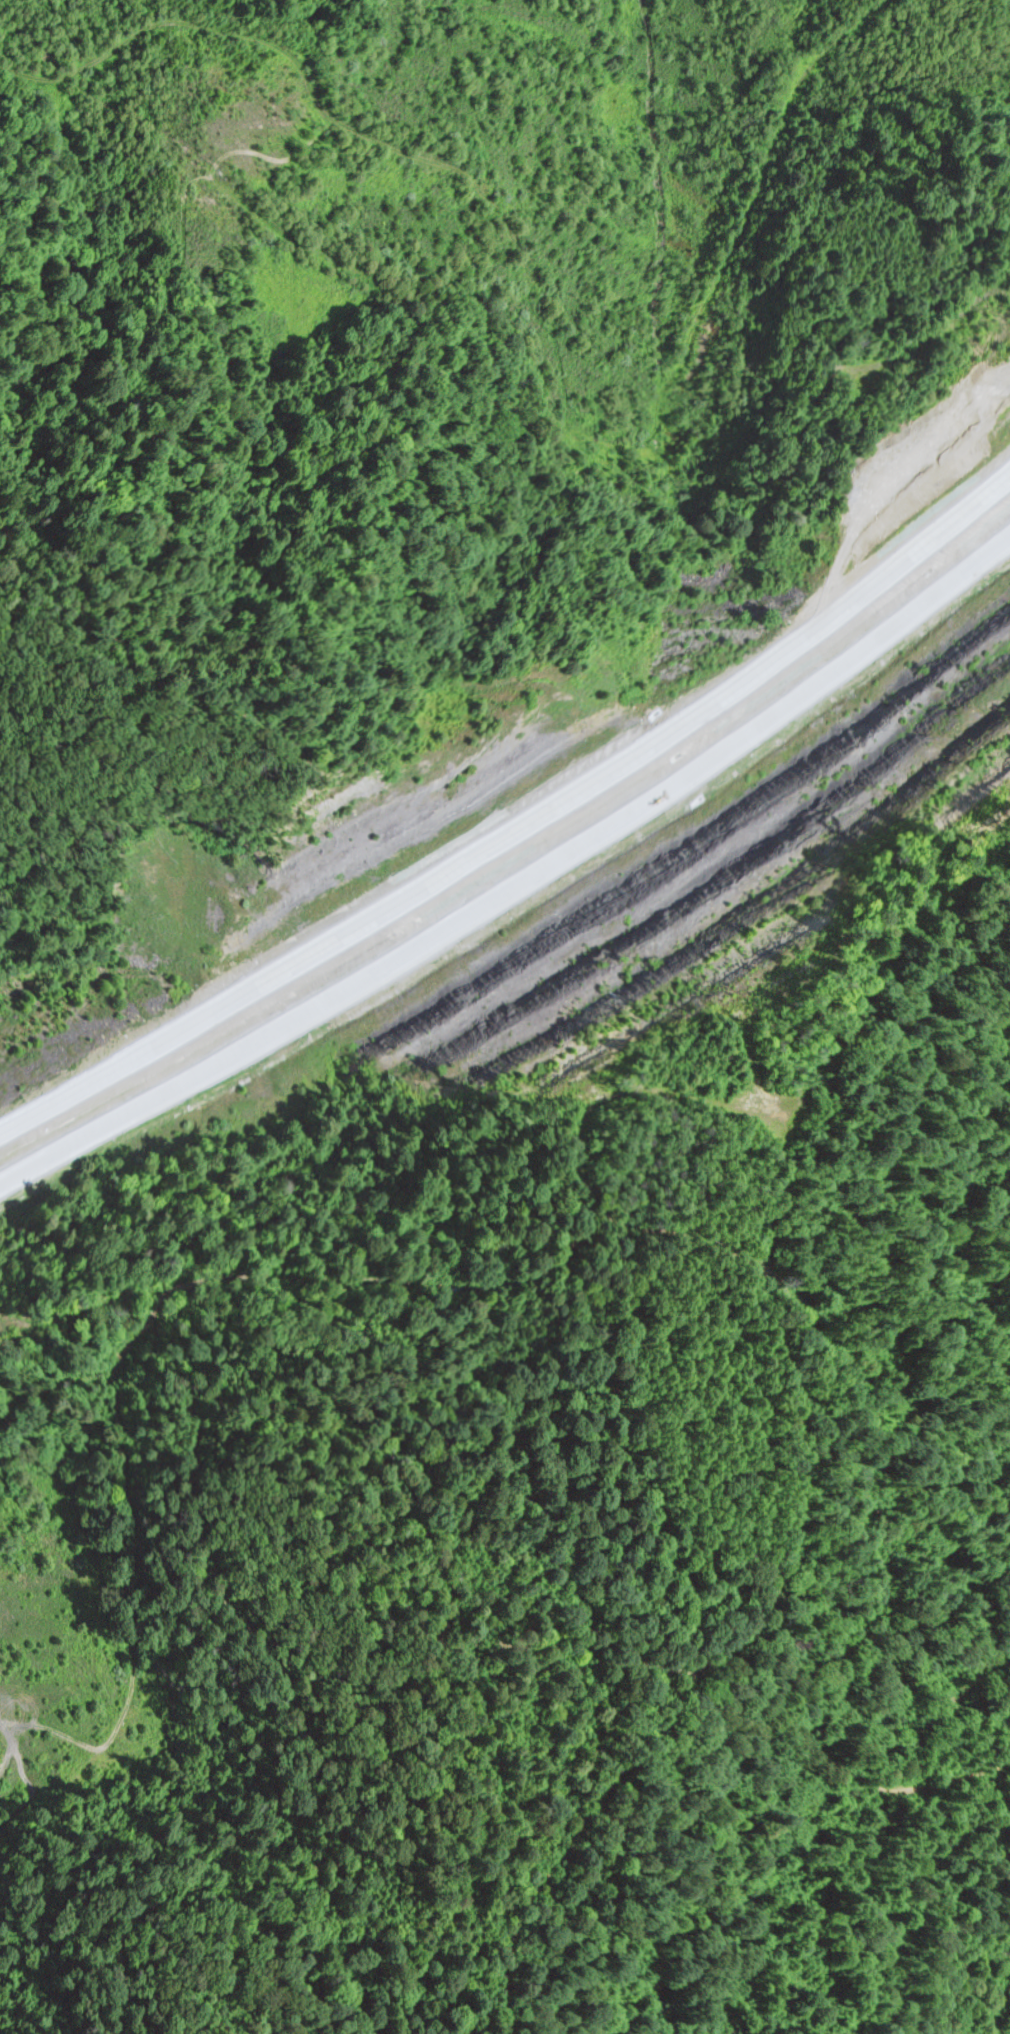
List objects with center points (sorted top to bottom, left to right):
road: (248, 37)
road: (529, 853)
road: (532, 908)
quarry: (684, 949)
quarry: (58, 1628)

